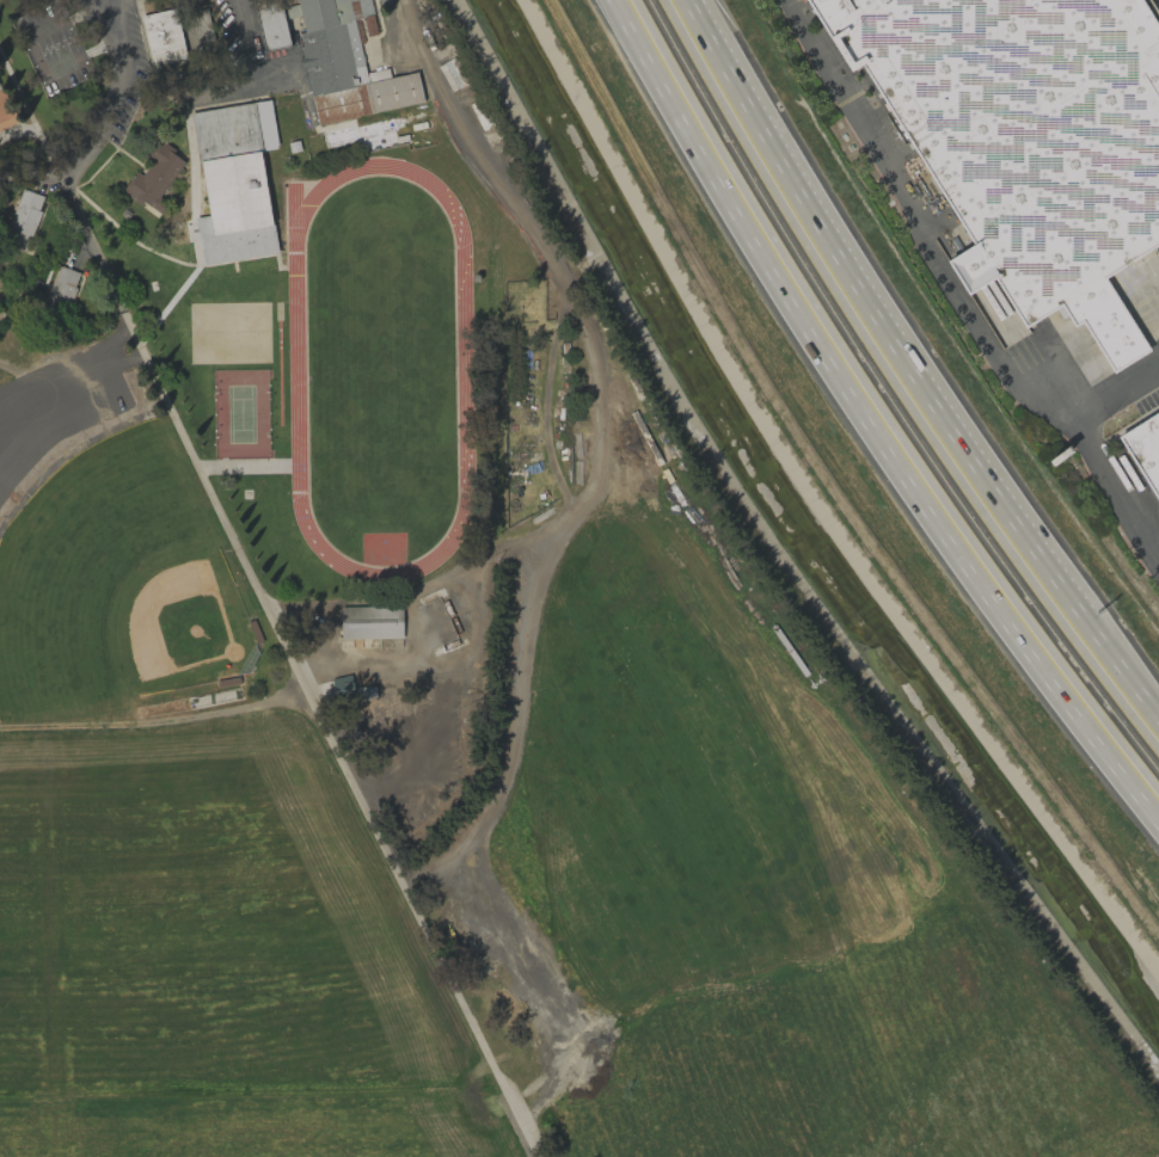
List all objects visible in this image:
road: (96, 5)
road: (237, 13)
building: (271, 24)
building: (162, 37)
building: (344, 63)
building: (5, 112)
building: (1025, 137)
building: (154, 178)
building: (234, 181)
building: (23, 216)
road: (915, 224)
building: (61, 285)
building: (1, 314)
road: (871, 316)
road: (69, 362)
road: (870, 419)
road: (1086, 442)
road: (595, 450)
building: (1143, 453)
road: (255, 584)
building: (370, 622)
road: (1120, 673)
building: (342, 688)
road: (154, 720)

